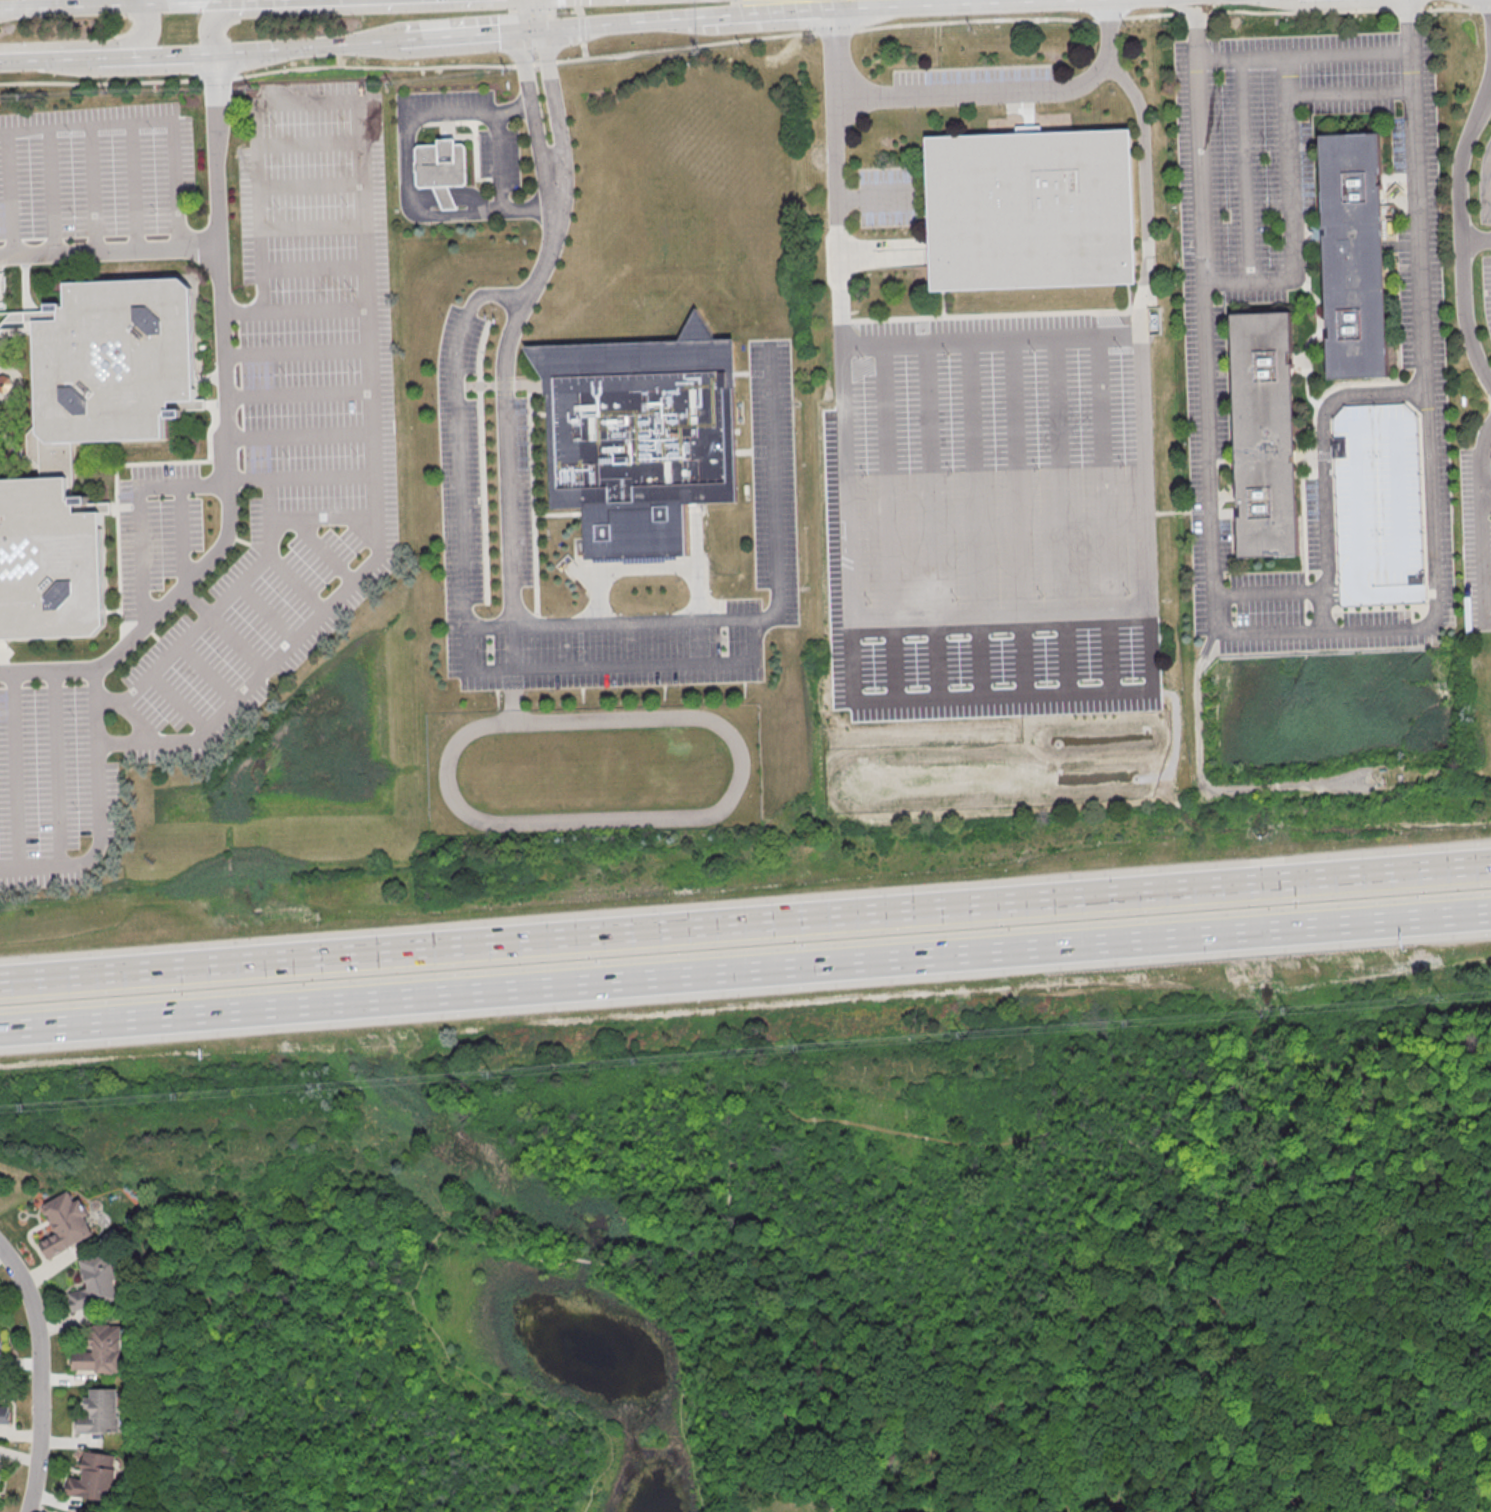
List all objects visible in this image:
road: (255, 1)
road: (144, 2)
road: (109, 6)
road: (770, 9)
road: (547, 14)
road: (580, 20)
road: (617, 23)
road: (1408, 25)
traffic signals: (546, 28)
road: (207, 29)
road: (1195, 29)
road: (461, 34)
road: (147, 35)
road: (745, 40)
road: (310, 48)
road: (582, 49)
road: (1303, 55)
road: (172, 57)
road: (62, 60)
parking lot: (973, 84)
road: (1006, 89)
road: (1349, 90)
road: (325, 98)
parking lot: (444, 98)
road: (556, 106)
road: (531, 108)
road: (149, 122)
road: (308, 140)
parking lot: (499, 156)
road: (497, 159)
road: (1244, 167)
building: (444, 169)
parking lot: (94, 170)
road: (405, 173)
road: (309, 183)
parking lot: (1485, 184)
road: (130, 187)
road: (90, 189)
road: (49, 191)
road: (1145, 191)
road: (7, 193)
parking lot: (888, 193)
road: (446, 195)
road: (876, 195)
road: (423, 196)
road: (472, 198)
building: (1037, 210)
road: (1291, 210)
road: (310, 228)
road: (1460, 232)
road: (109, 250)
building: (1357, 254)
road: (880, 256)
road: (311, 266)
parking lot: (1487, 288)
road: (292, 311)
parking lot: (1421, 337)
road: (990, 339)
road: (294, 351)
building: (110, 366)
road: (297, 392)
road: (1339, 396)
building: (1264, 435)
road: (298, 436)
road: (225, 437)
building: (645, 437)
road: (1479, 457)
parking lot: (993, 473)
road: (1106, 474)
road: (300, 476)
road: (1059, 476)
road: (1017, 477)
road: (974, 479)
road: (931, 480)
road: (887, 482)
parking lot: (328, 484)
parking lot: (484, 491)
road: (1485, 494)
building: (1380, 505)
parking lot: (1380, 505)
road: (138, 516)
road: (322, 519)
road: (995, 521)
road: (509, 525)
road: (1482, 559)
building: (50, 562)
road: (643, 567)
road: (298, 580)
road: (1323, 586)
road: (1320, 599)
road: (847, 604)
road: (323, 608)
road: (214, 610)
road: (268, 611)
road: (1324, 628)
road: (489, 631)
road: (238, 641)
road: (513, 649)
road: (561, 666)
road: (208, 671)
road: (512, 694)
road: (177, 702)
road: (139, 721)
road: (56, 768)
road: (15, 771)
road: (98, 810)
road: (674, 816)
road: (745, 923)
road: (745, 971)
road: (1394, 1107)
road: (1252, 1122)
road: (1240, 1132)
road: (986, 1146)
road: (1354, 1155)
building: (65, 1223)
road: (473, 1235)
road: (606, 1237)
road: (587, 1261)
park: (829, 1263)
building: (96, 1282)
road: (1416, 1295)
road: (946, 1328)
building: (1, 1342)
building: (101, 1350)
road: (737, 1362)
road: (41, 1375)
road: (361, 1386)
road: (472, 1400)
road: (745, 1408)
building: (100, 1412)
road: (1209, 1412)
building: (4, 1414)
road: (1267, 1419)
road: (582, 1423)
road: (682, 1436)
road: (1340, 1463)
road: (1266, 1465)
building: (0, 1468)
building: (94, 1476)

